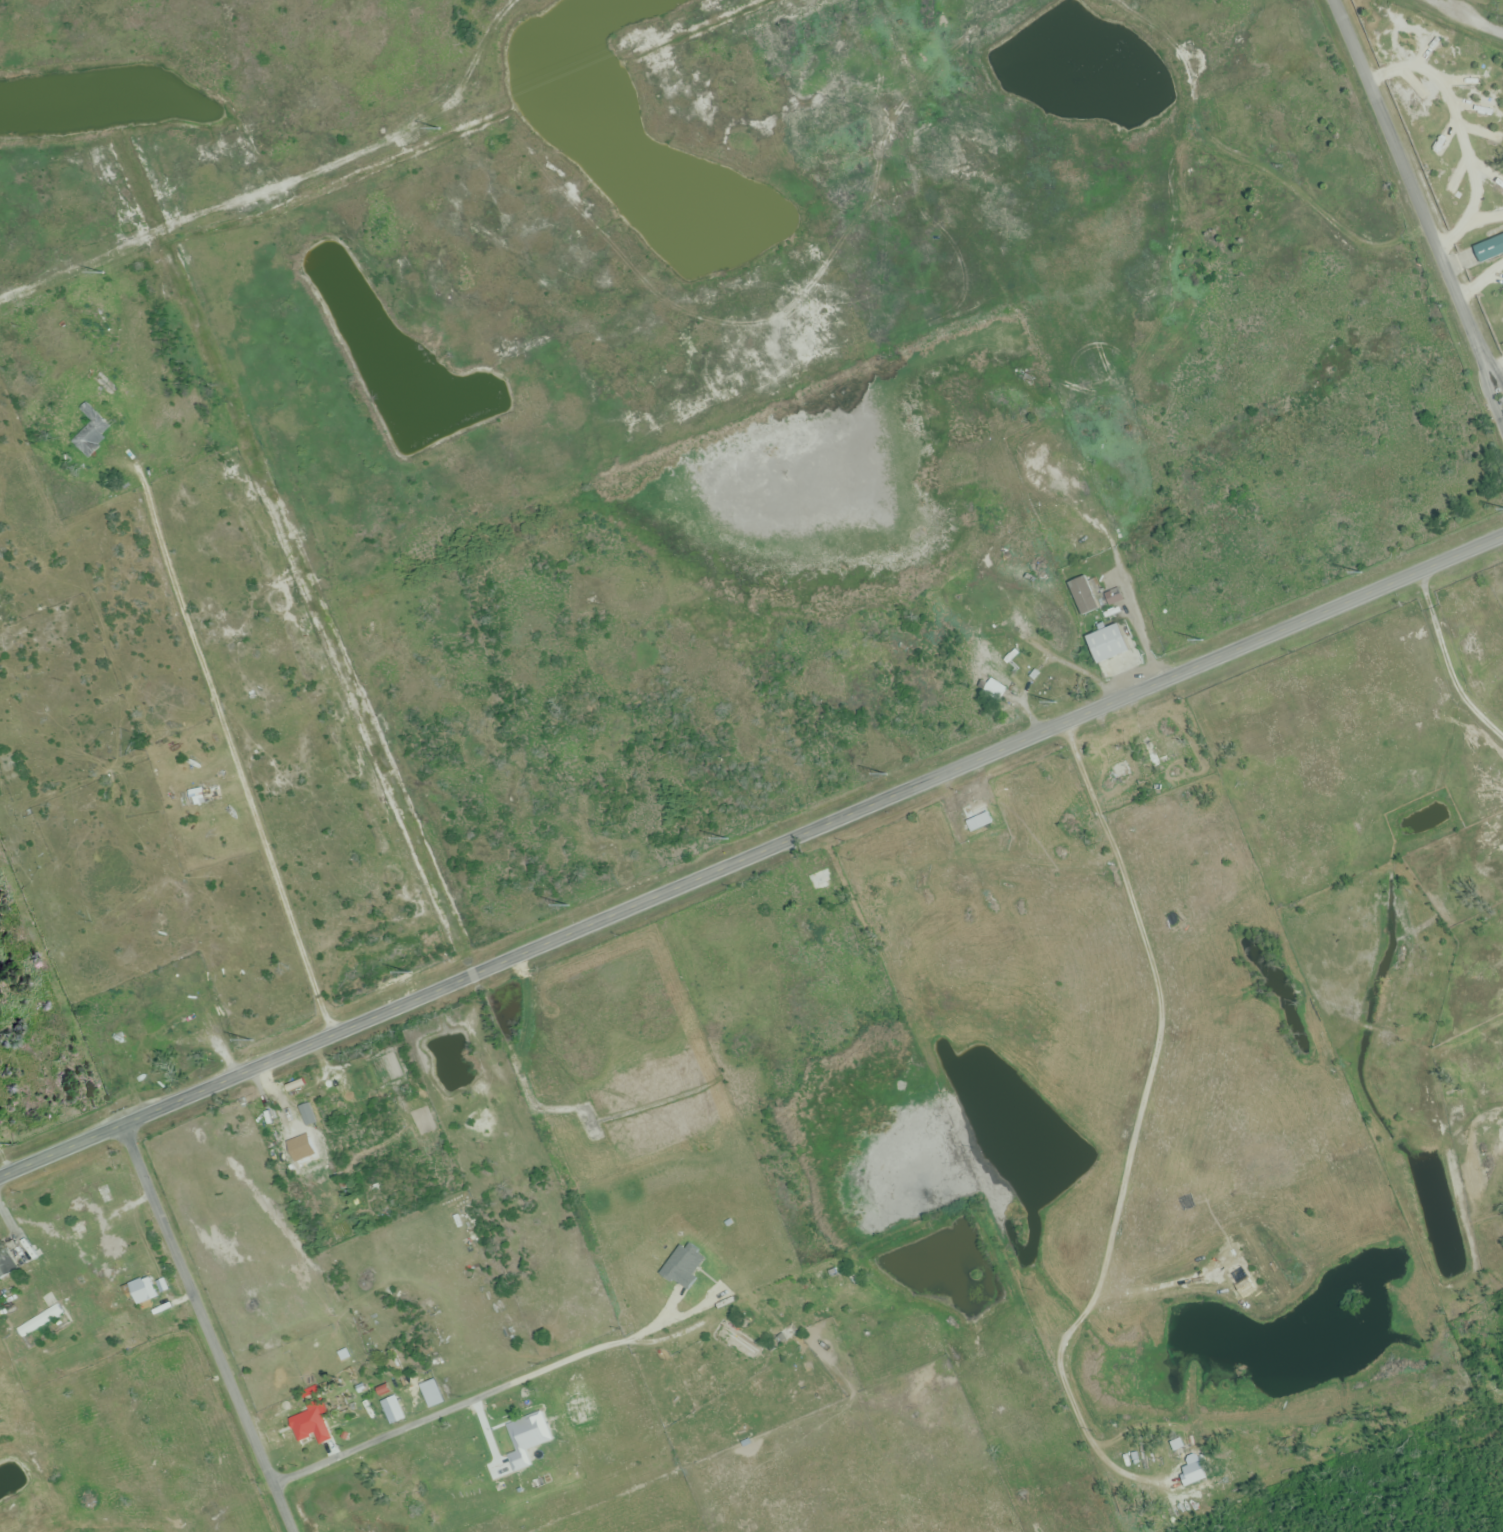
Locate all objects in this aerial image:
road: (1497, 33)
road: (1416, 194)
building: (1488, 250)
building: (88, 318)
building: (92, 435)
building: (1000, 672)
building: (1159, 751)
building: (204, 796)
building: (975, 817)
road: (751, 854)
building: (820, 881)
building: (805, 929)
building: (118, 1038)
building: (189, 1047)
building: (141, 1291)
building: (40, 1327)
road: (207, 1327)
building: (737, 1342)
road: (618, 1344)
building: (431, 1394)
building: (392, 1410)
road: (406, 1426)
building: (311, 1433)
building: (523, 1441)
building: (1177, 1446)

